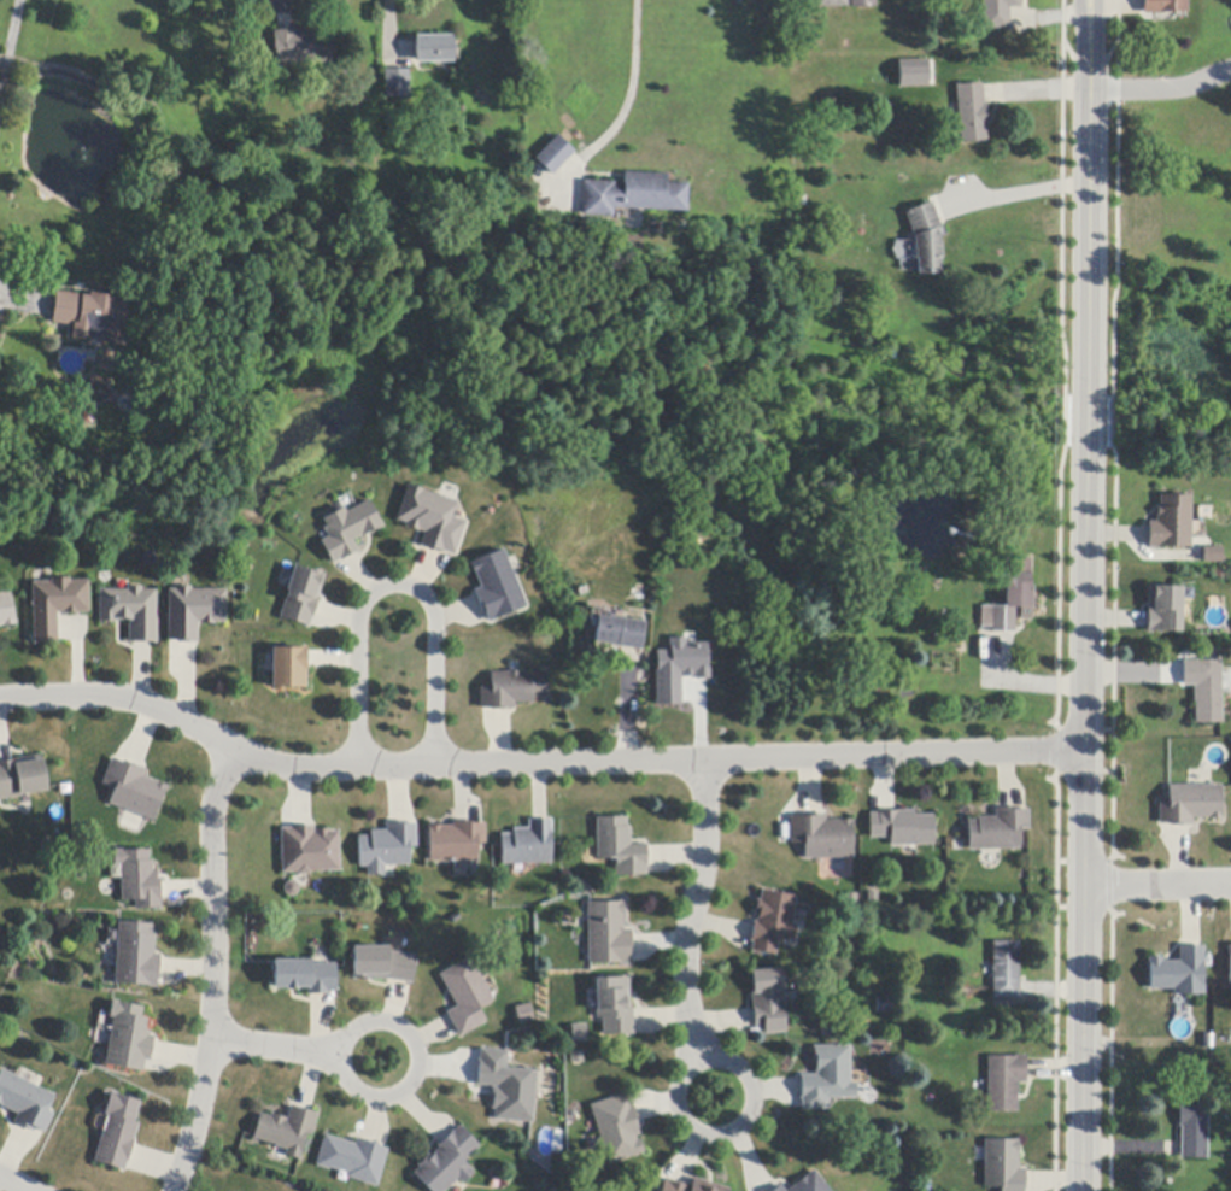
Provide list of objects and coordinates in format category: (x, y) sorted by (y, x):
building: (831, 4)
building: (862, 4)
road: (277, 6)
building: (1165, 6)
building: (997, 13)
road: (389, 19)
road: (1084, 20)
road: (1092, 20)
road: (8, 48)
building: (301, 48)
building: (434, 49)
building: (909, 76)
building: (397, 83)
road: (1161, 87)
road: (628, 95)
building: (971, 113)
building: (552, 156)
road: (1018, 194)
building: (631, 195)
building: (924, 237)
building: (92, 317)
park: (386, 379)
park: (1166, 389)
building: (433, 520)
building: (1171, 524)
building: (348, 530)
building: (1212, 555)
road: (397, 585)
building: (498, 587)
building: (303, 597)
building: (1012, 598)
building: (57, 605)
building: (6, 610)
building: (1163, 610)
building: (131, 612)
building: (194, 612)
road: (1088, 616)
building: (619, 633)
building: (291, 668)
building: (680, 669)
building: (514, 690)
building: (1204, 690)
road: (535, 762)
building: (22, 778)
building: (135, 790)
building: (1190, 805)
building: (903, 828)
building: (998, 831)
building: (822, 837)
building: (457, 841)
building: (529, 845)
building: (388, 847)
building: (621, 847)
building: (311, 851)
building: (140, 879)
road: (1159, 882)
building: (293, 888)
road: (697, 910)
building: (773, 922)
building: (608, 934)
building: (137, 956)
building: (1230, 962)
building: (383, 964)
road: (218, 969)
building: (1006, 970)
building: (1179, 973)
building: (306, 976)
building: (467, 997)
building: (768, 1001)
building: (615, 1007)
building: (887, 1007)
building: (526, 1014)
building: (129, 1038)
road: (276, 1048)
building: (827, 1079)
building: (1004, 1083)
building: (506, 1087)
road: (375, 1096)
building: (25, 1102)
road: (680, 1109)
building: (617, 1128)
building: (286, 1131)
building: (1192, 1132)
building: (117, 1133)
building: (352, 1160)
building: (447, 1162)
building: (1003, 1166)
road: (13, 1184)
building: (810, 1184)
building: (691, 1186)
building: (779, 1189)

